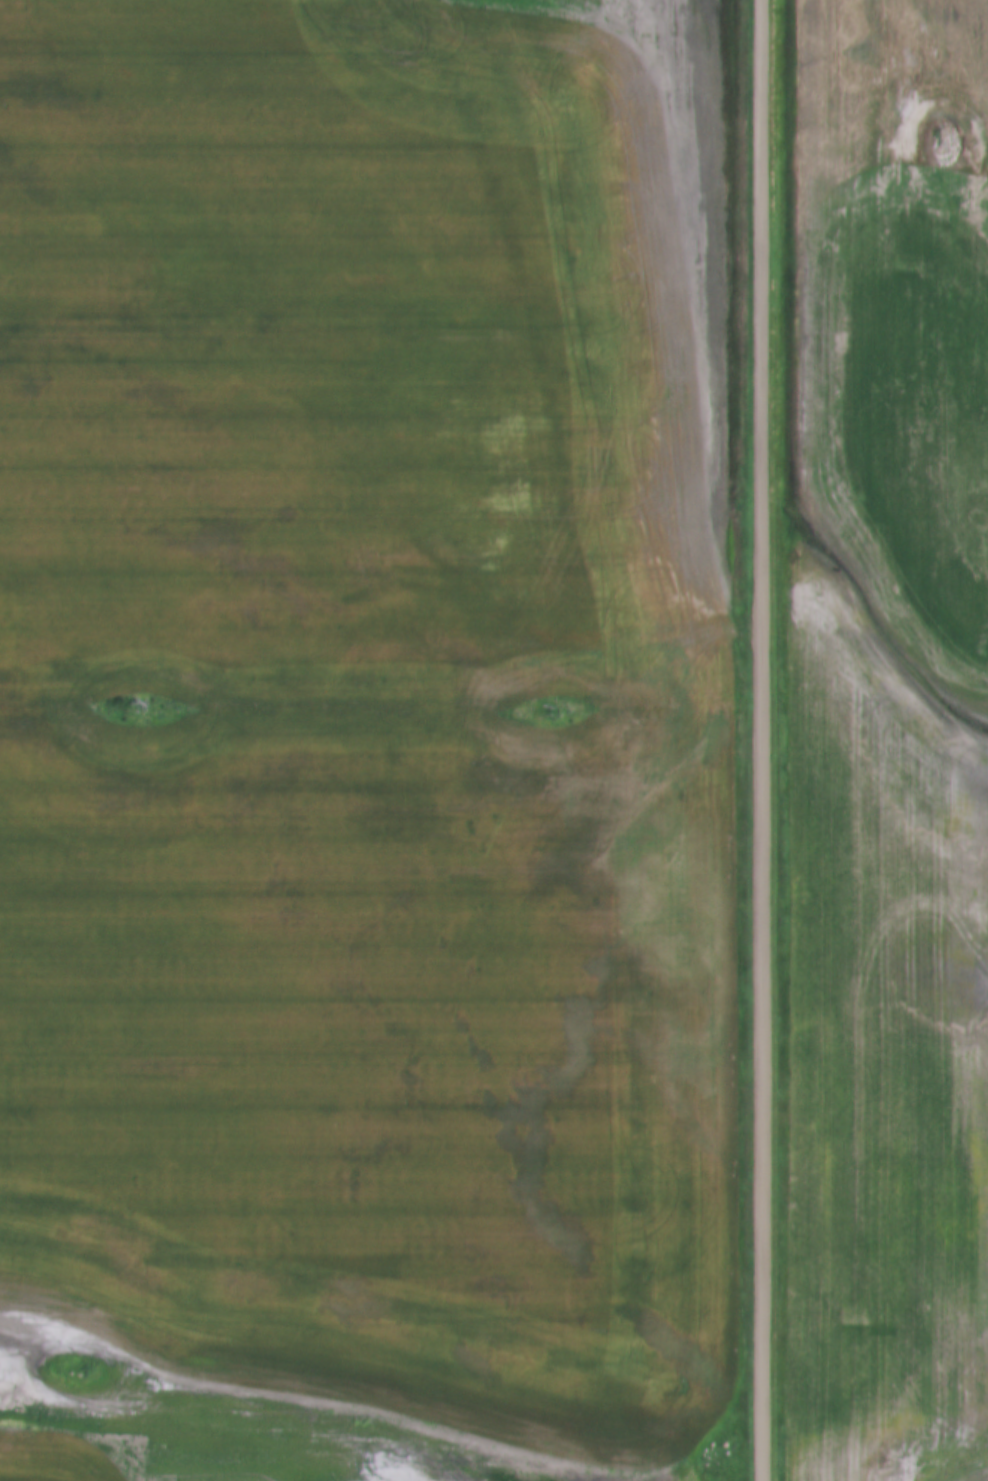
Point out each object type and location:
road: (760, 740)

